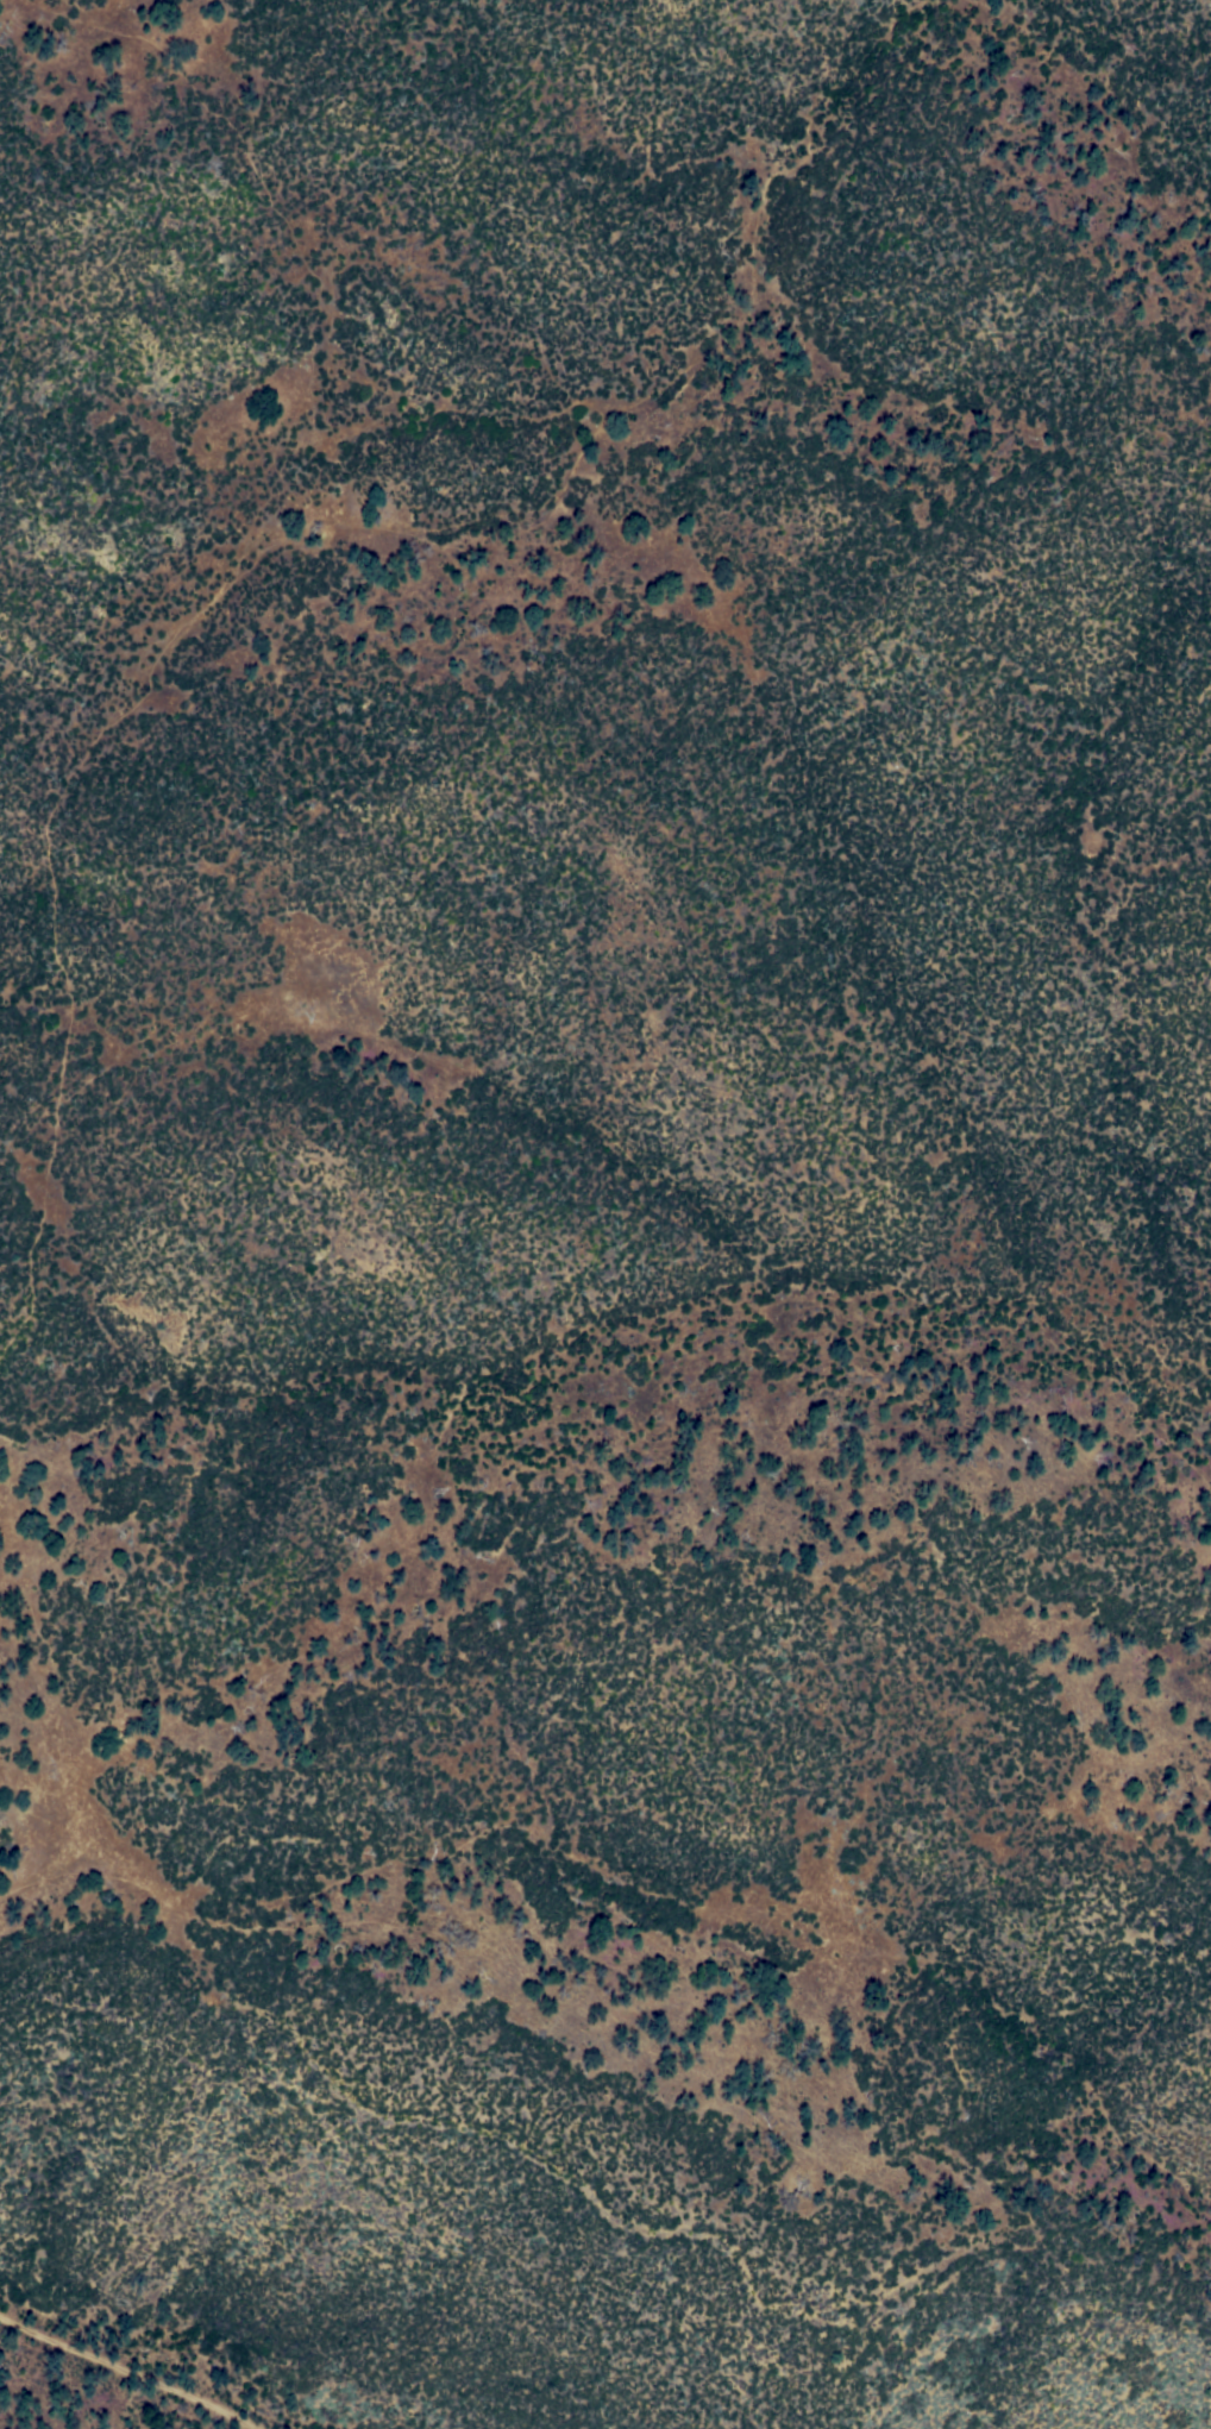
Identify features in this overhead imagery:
road: (124, 2373)

